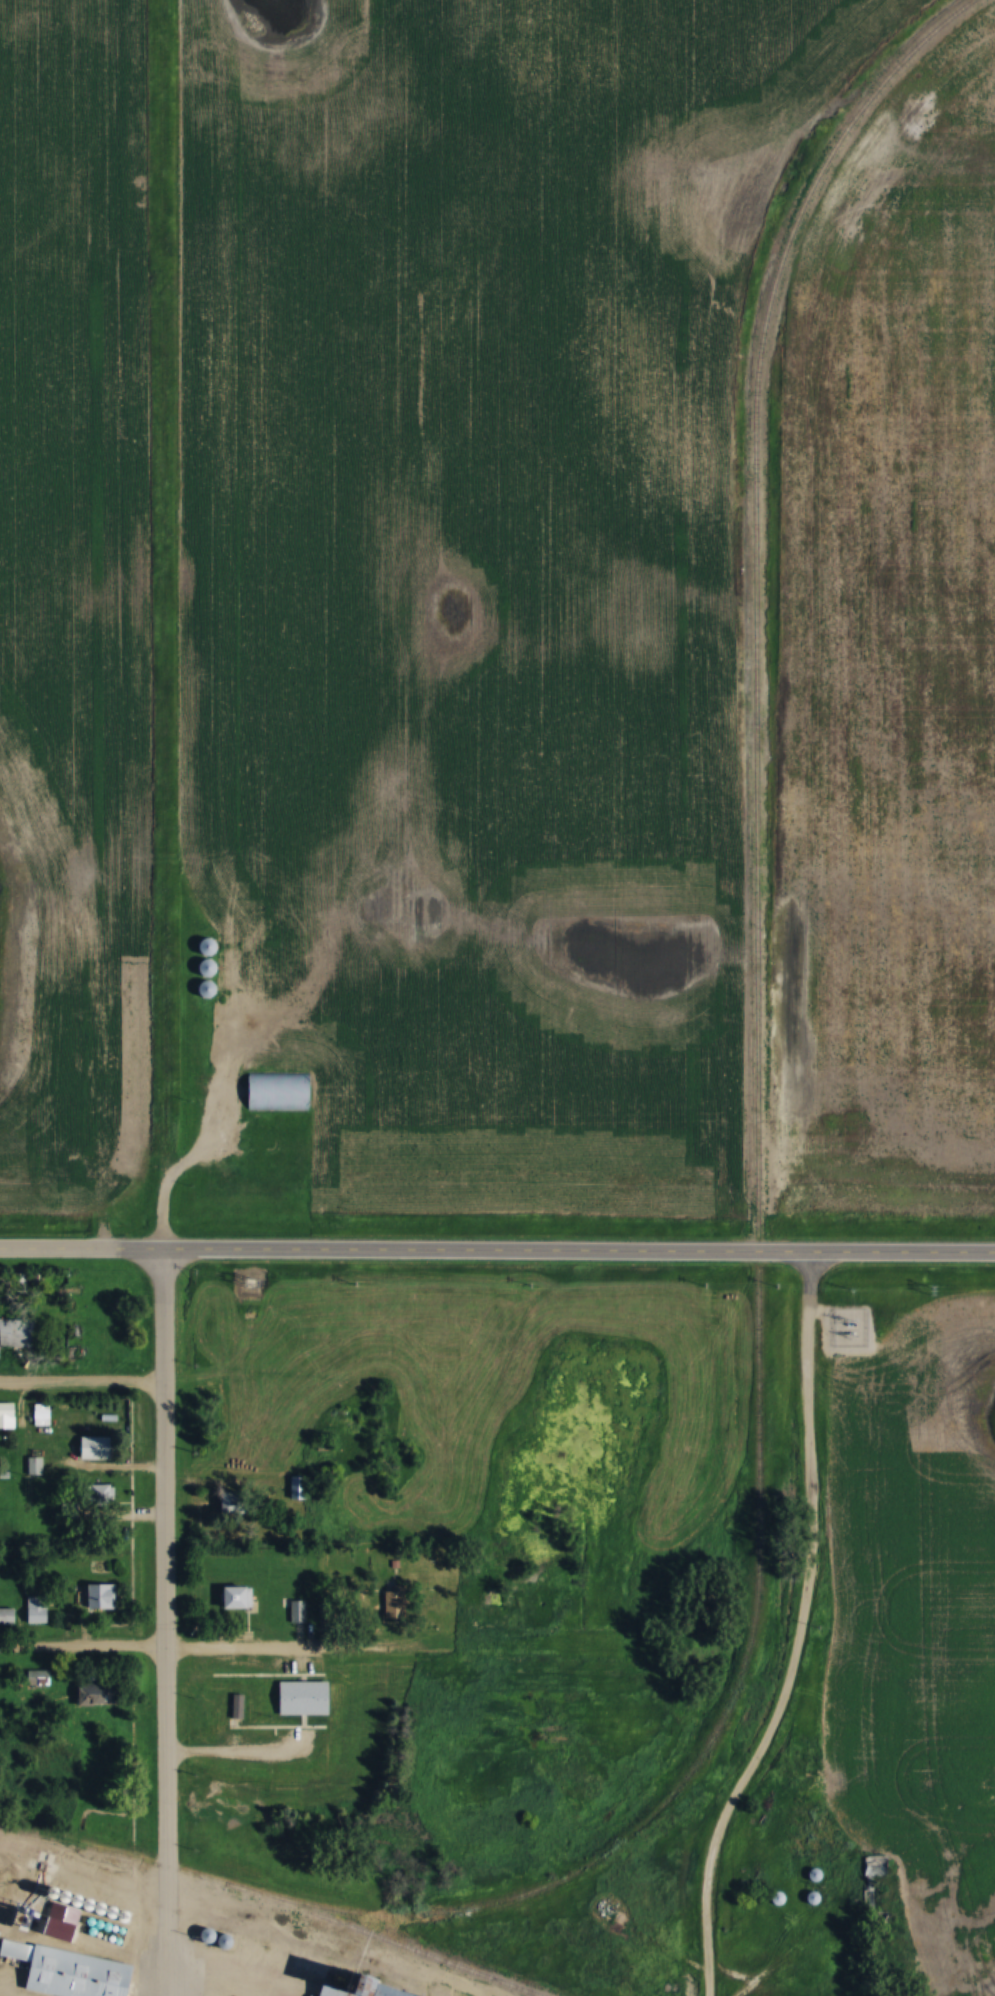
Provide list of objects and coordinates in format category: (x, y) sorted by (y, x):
building: (210, 948)
building: (210, 968)
building: (210, 991)
building: (279, 1093)
railway: (756, 1230)
road: (497, 1252)
power substation: (851, 1324)
building: (18, 1333)
road: (82, 1381)
building: (8, 1417)
building: (97, 1449)
building: (36, 1467)
building: (298, 1489)
building: (104, 1496)
building: (237, 1505)
building: (103, 1598)
building: (240, 1599)
building: (37, 1611)
building: (298, 1613)
building: (326, 1614)
building: (8, 1617)
crop: (919, 1619)
road: (169, 1623)
road: (796, 1632)
road: (206, 1651)
building: (41, 1679)
building: (100, 1695)
building: (305, 1699)
building: (875, 1872)
building: (818, 1876)
building: (779, 1899)
building: (815, 1899)
building: (63, 1909)
railway: (217, 1924)
railway: (382, 1940)
building: (77, 1973)
building: (339, 1992)

